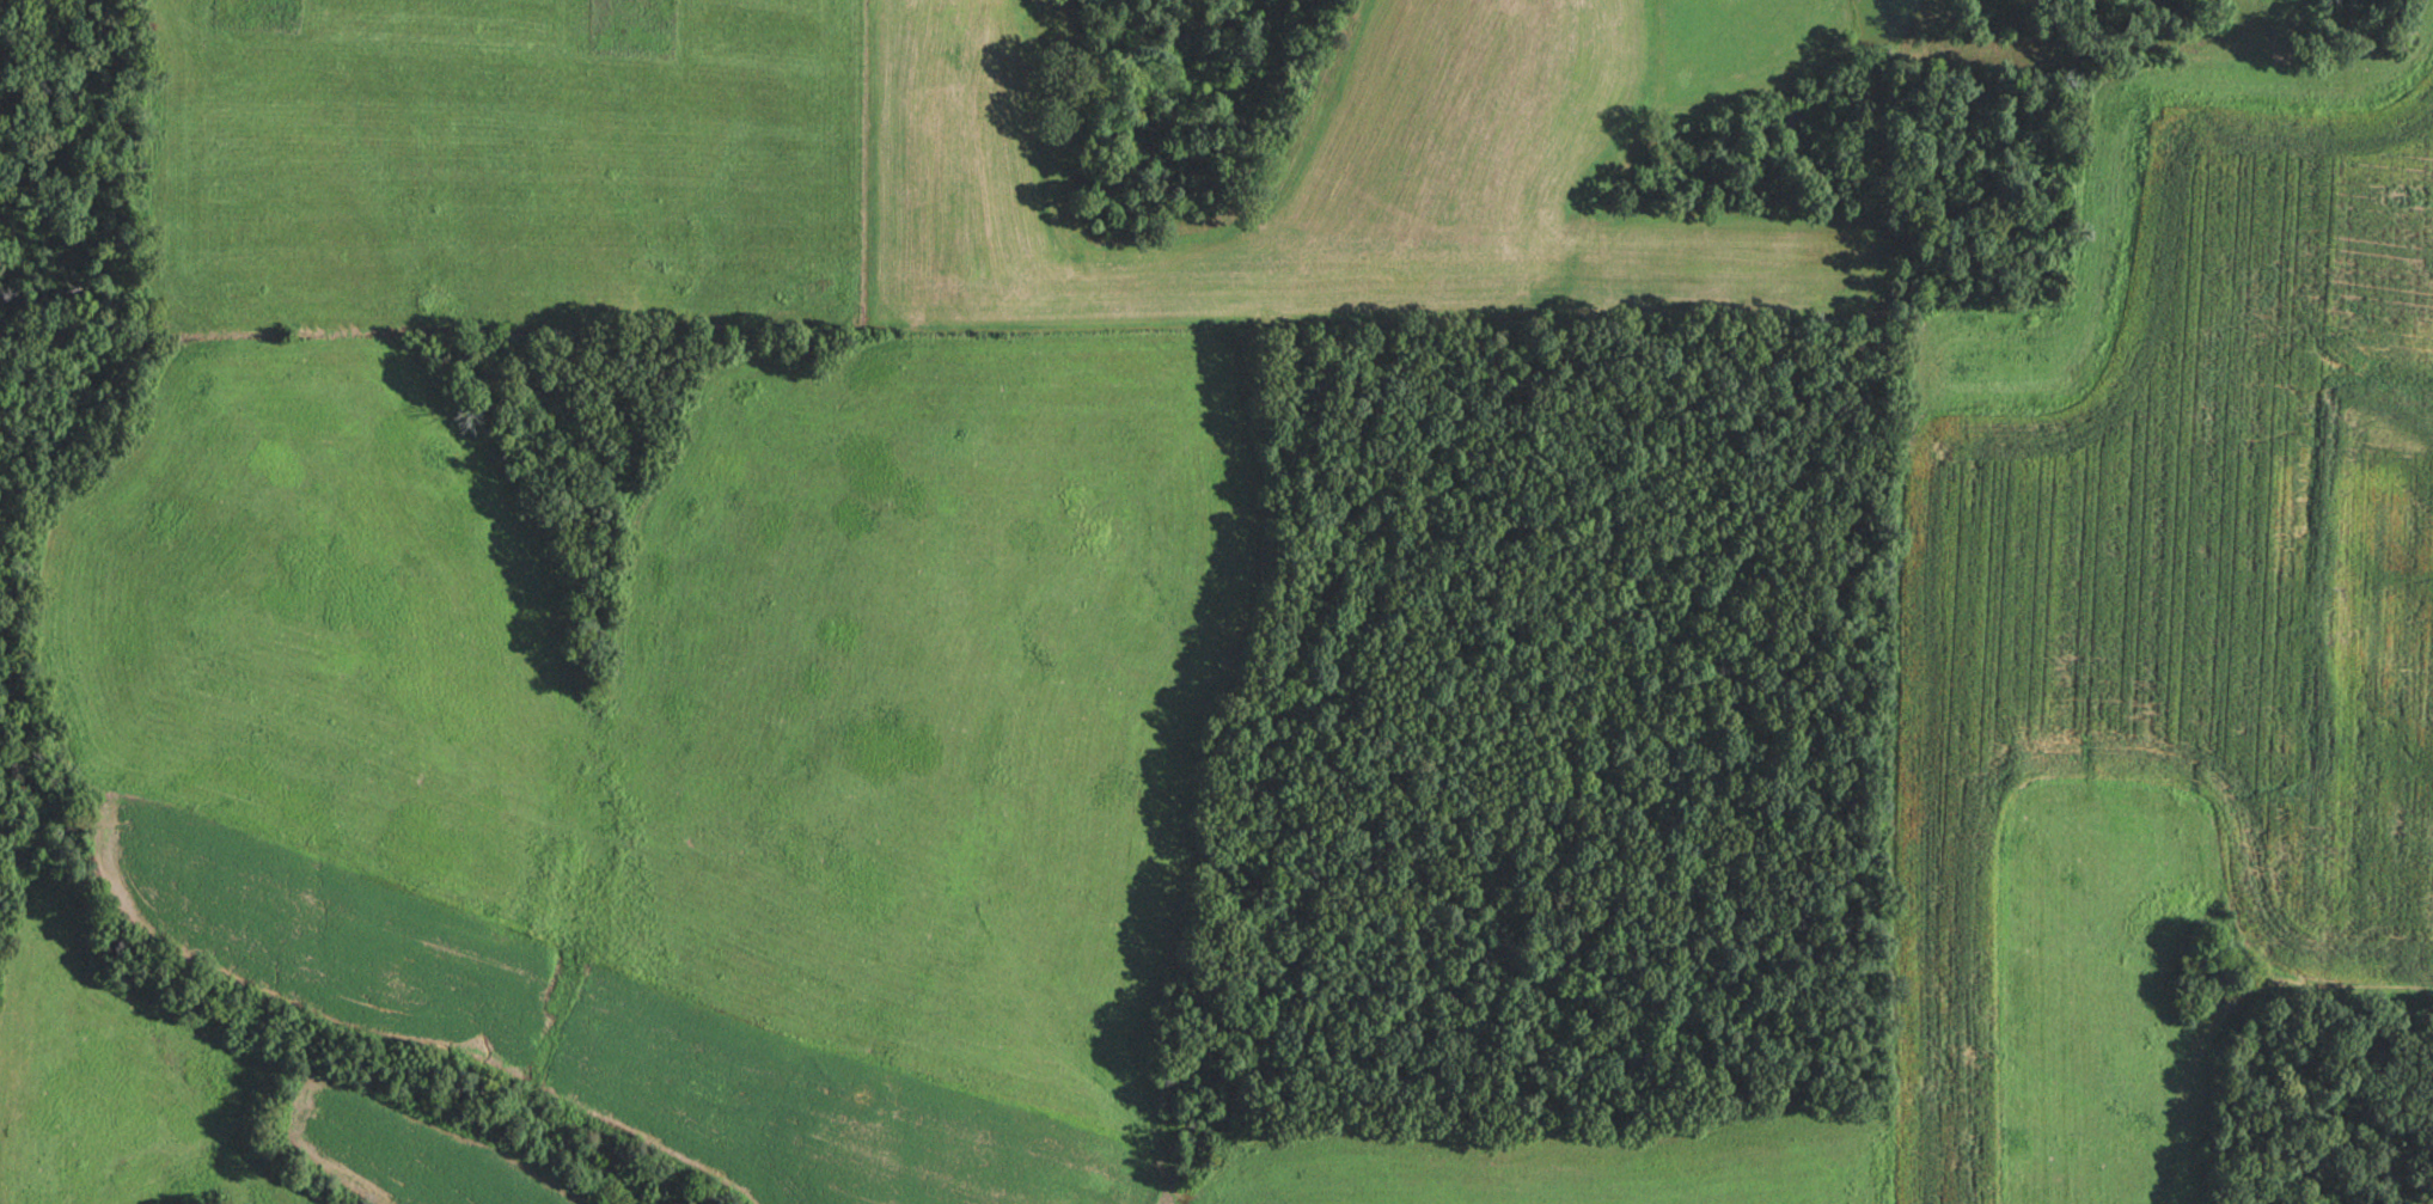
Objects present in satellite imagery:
road: (2205, 440)

